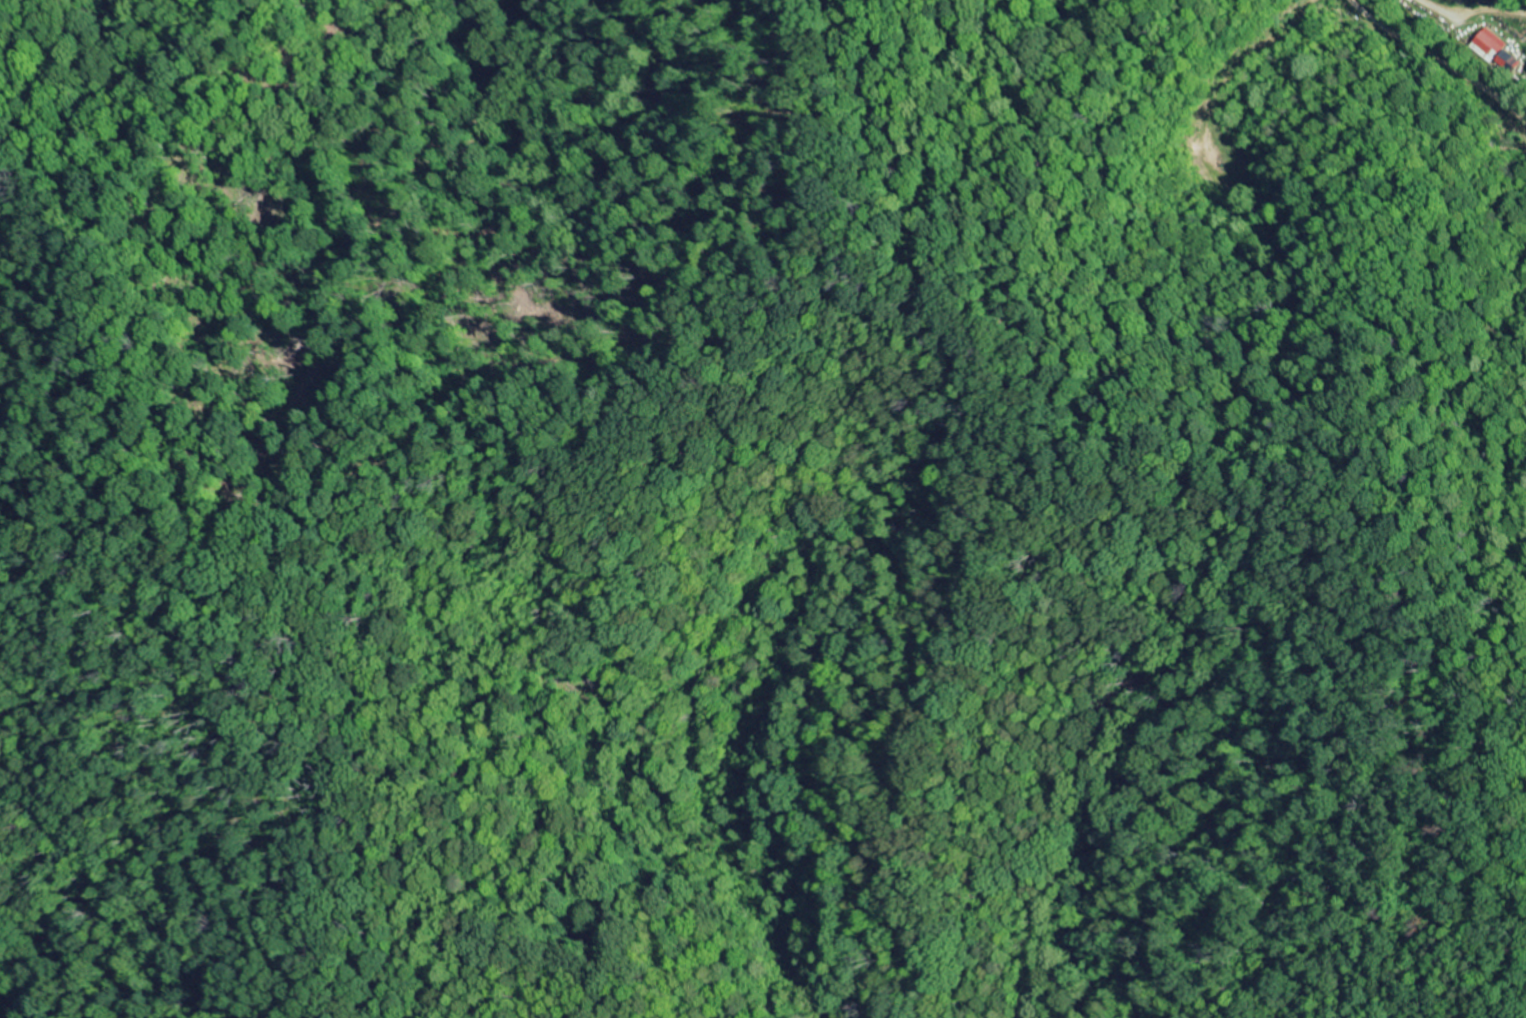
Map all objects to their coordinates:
building: (1486, 45)

